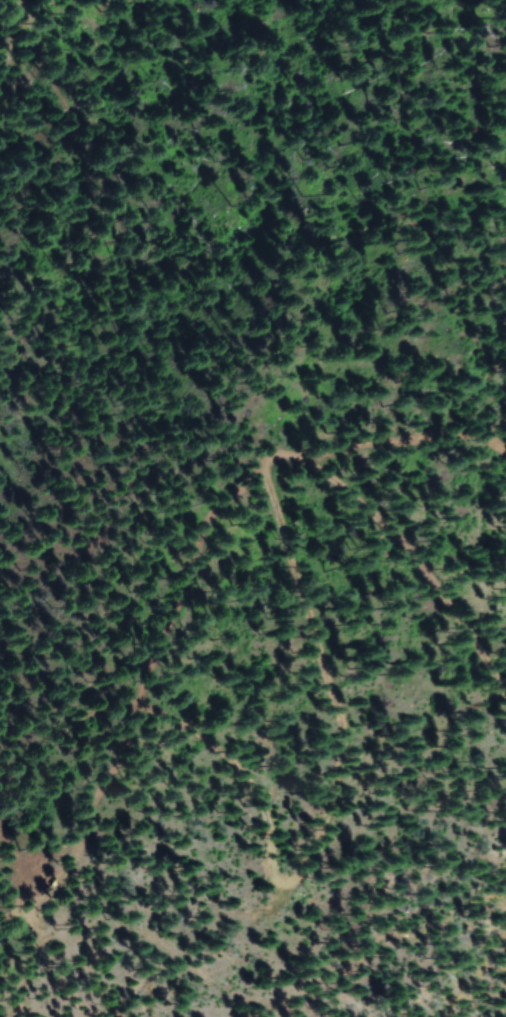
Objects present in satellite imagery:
road: (2, 1)

